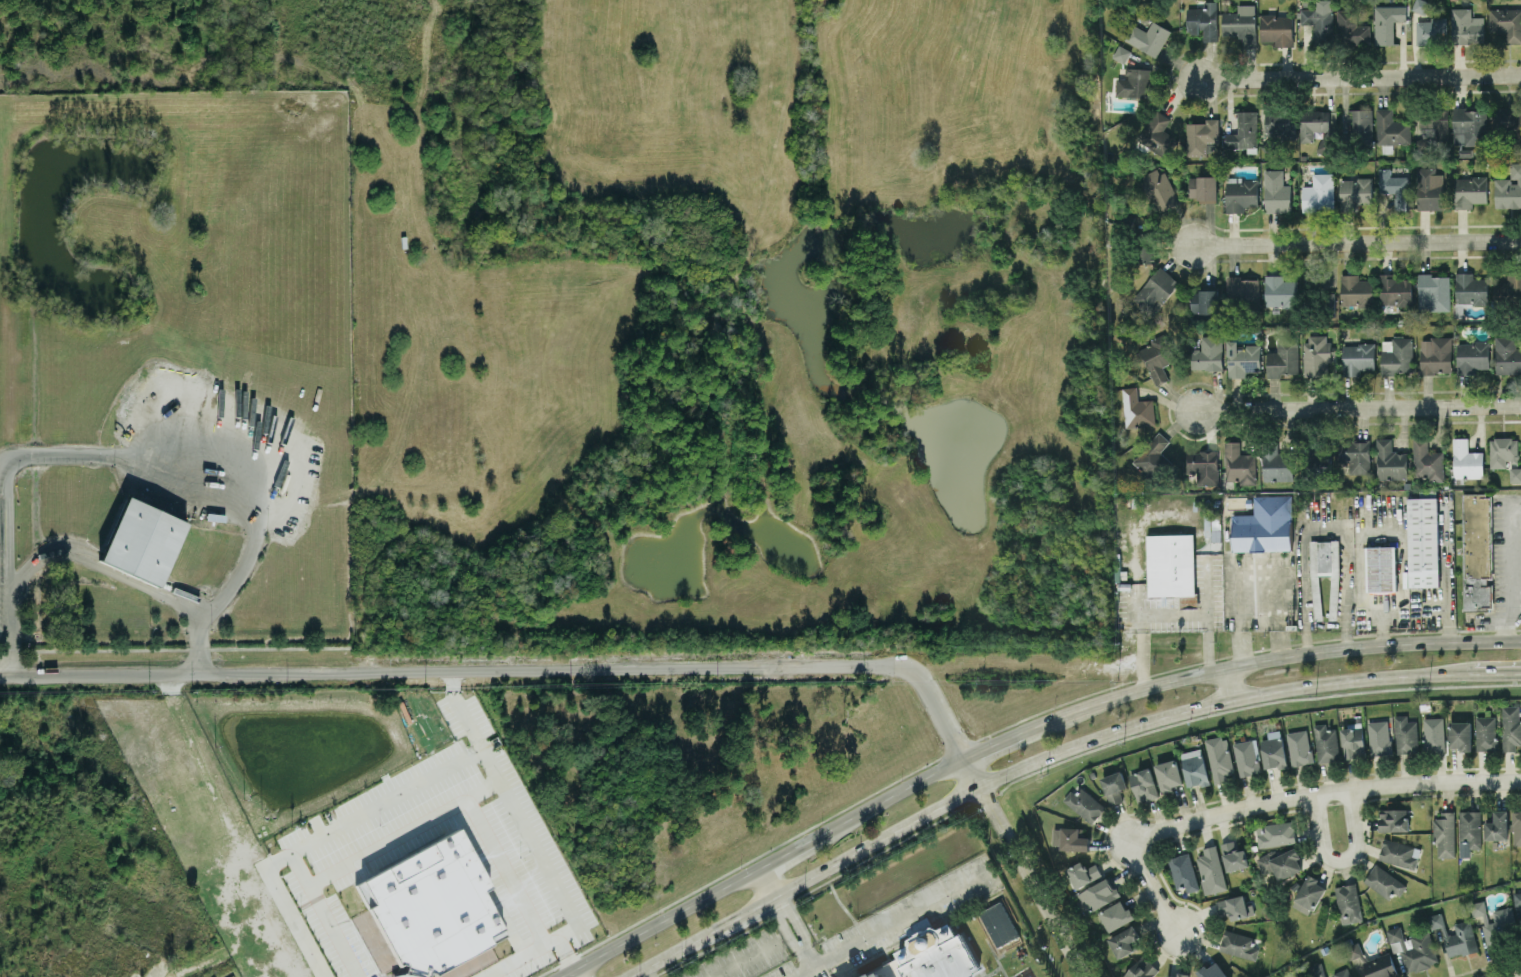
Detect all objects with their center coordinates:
building: (1420, 5)
building: (1203, 20)
building: (1319, 22)
building: (1386, 22)
building: (1506, 22)
building: (1240, 23)
building: (1466, 26)
building: (1276, 28)
building: (1350, 29)
building: (1431, 31)
building: (1146, 37)
building: (1121, 53)
road: (1359, 76)
building: (1133, 82)
building: (1361, 120)
building: (1312, 122)
building: (1508, 123)
building: (1280, 125)
building: (1469, 126)
building: (1390, 129)
building: (1431, 129)
building: (1244, 130)
building: (1158, 134)
building: (1200, 136)
building: (1327, 141)
building: (1394, 187)
building: (1509, 187)
building: (1203, 188)
building: (1159, 189)
building: (1428, 189)
building: (1276, 191)
building: (1469, 191)
building: (1318, 192)
building: (1241, 193)
building: (1356, 193)
road: (1359, 241)
building: (1509, 287)
building: (1471, 289)
building: (1155, 290)
building: (1395, 290)
building: (1242, 291)
building: (1280, 291)
building: (1356, 291)
building: (1433, 292)
building: (1205, 301)
building: (1207, 354)
building: (1316, 355)
building: (1436, 355)
building: (1507, 355)
building: (1398, 356)
building: (1472, 357)
building: (1242, 358)
building: (1283, 358)
building: (1357, 358)
building: (1157, 360)
road: (1359, 407)
building: (1137, 409)
building: (1503, 451)
road: (57, 456)
building: (1356, 456)
building: (1152, 457)
building: (1466, 460)
building: (1322, 461)
building: (1390, 461)
building: (1427, 462)
building: (1239, 464)
building: (1203, 466)
building: (1277, 466)
building: (1515, 474)
building: (1264, 526)
building: (1423, 541)
building: (149, 542)
building: (1477, 551)
road: (1512, 554)
building: (1171, 564)
road: (101, 565)
building: (1381, 568)
road: (1252, 571)
road: (1206, 585)
building: (1335, 597)
road: (206, 607)
road: (1168, 612)
road: (1507, 618)
road: (504, 671)
road: (1501, 673)
road: (1231, 683)
road: (460, 711)
building: (1511, 727)
road: (1014, 732)
building: (1486, 732)
building: (1434, 734)
building: (1406, 735)
building: (1461, 735)
building: (1379, 737)
building: (1326, 743)
building: (1354, 743)
building: (1299, 747)
building: (1274, 750)
building: (1247, 757)
building: (1220, 758)
road: (1033, 762)
building: (1195, 767)
building: (1168, 775)
building: (1143, 784)
building: (1113, 785)
road: (502, 787)
road: (1323, 793)
building: (1084, 803)
building: (1393, 819)
building: (1497, 826)
building: (1516, 827)
building: (1469, 831)
building: (1275, 833)
building: (1444, 834)
building: (1073, 838)
building: (1399, 853)
building: (1234, 856)
road: (1342, 859)
building: (1280, 862)
road: (1023, 866)
building: (1211, 870)
building: (1183, 871)
building: (1083, 873)
building: (1384, 882)
road: (764, 884)
road: (1154, 886)
building: (1099, 893)
building: (1308, 894)
building: (1517, 898)
building: (1348, 903)
road: (776, 906)
building: (431, 907)
building: (1234, 908)
road: (286, 910)
road: (323, 913)
building: (1116, 914)
building: (1435, 920)
road: (893, 922)
building: (1495, 923)
building: (999, 926)
building: (1395, 934)
building: (1461, 939)
building: (1123, 941)
road: (801, 943)
building: (1238, 944)
building: (1352, 949)
road: (563, 952)
building: (1419, 953)
road: (807, 955)
building: (931, 956)
road: (745, 958)
building: (1381, 966)
building: (1141, 968)
building: (1211, 971)
road: (648, 972)
road: (574, 973)
building: (1342, 973)
building: (1180, 975)
building: (851, 976)
road: (1518, 976)

